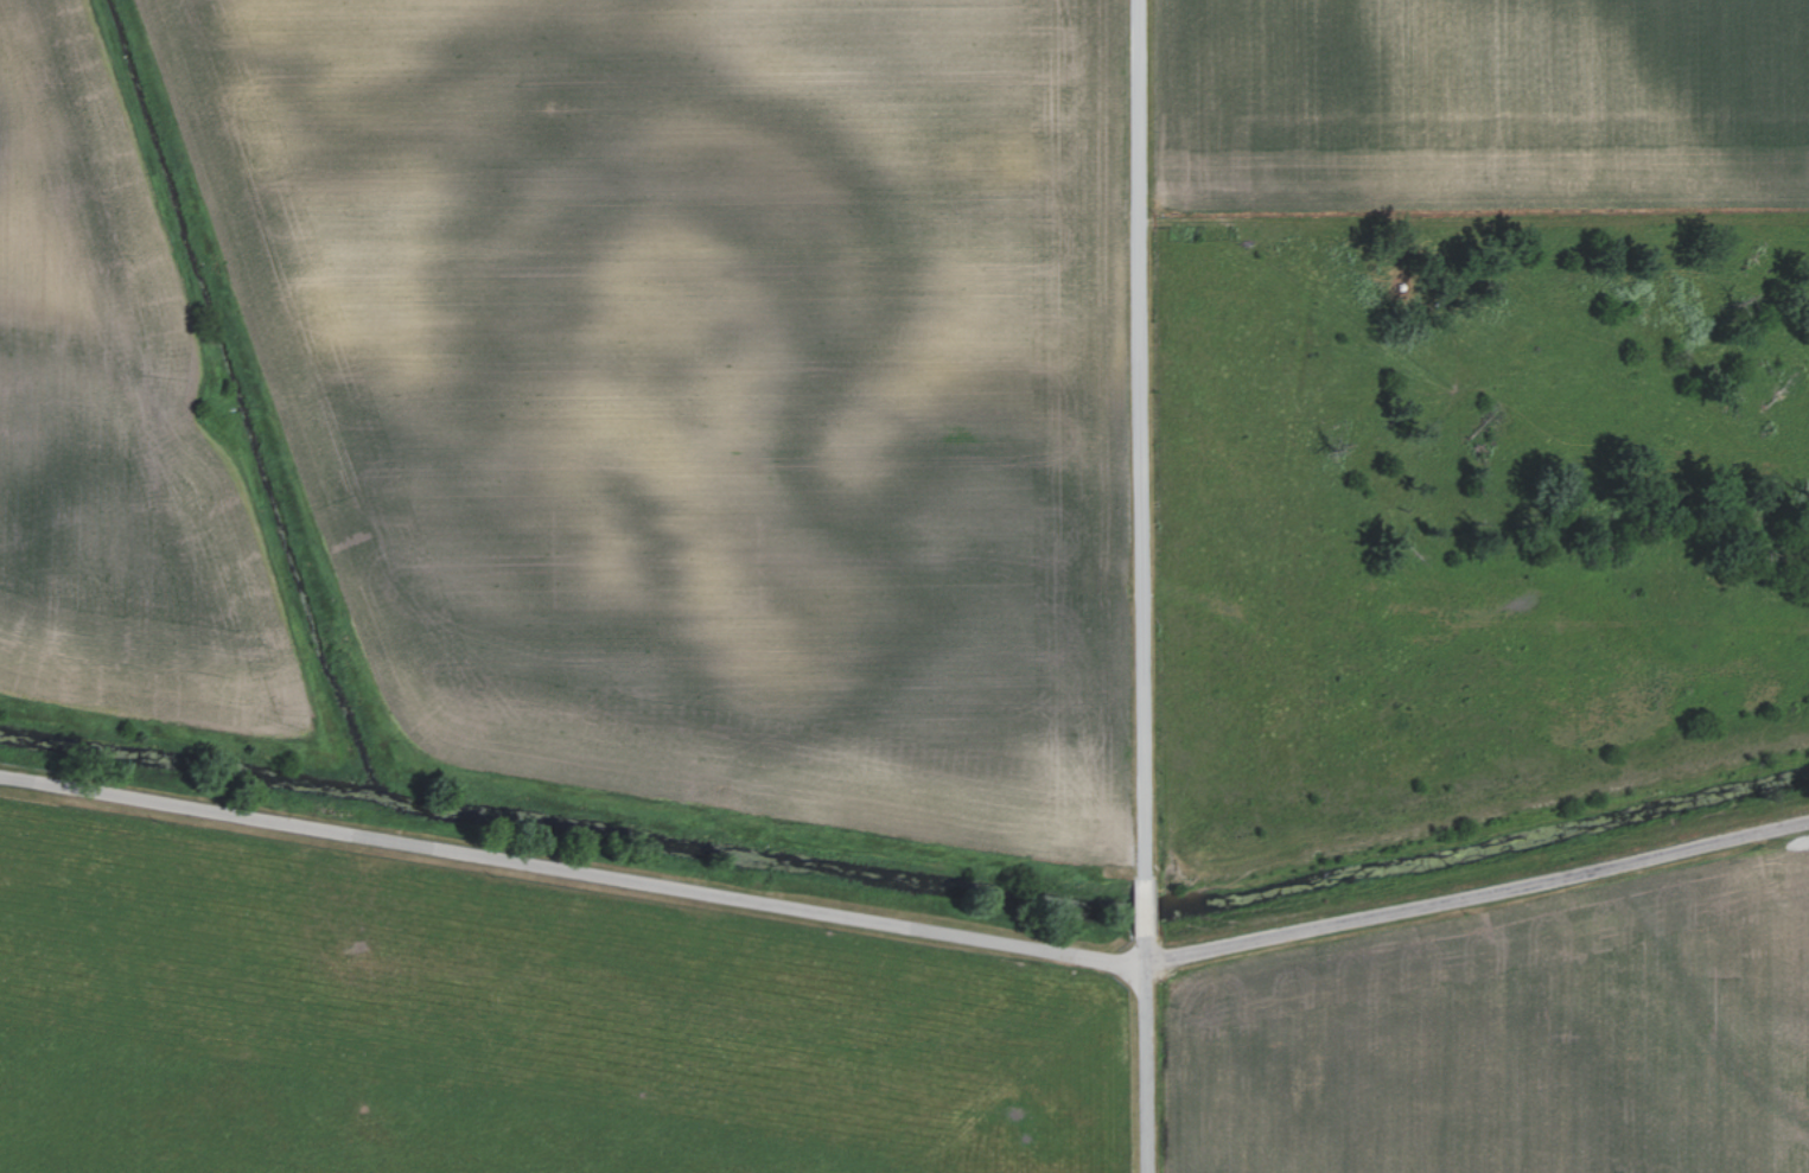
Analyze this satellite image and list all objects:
road: (1144, 586)
road: (906, 930)

